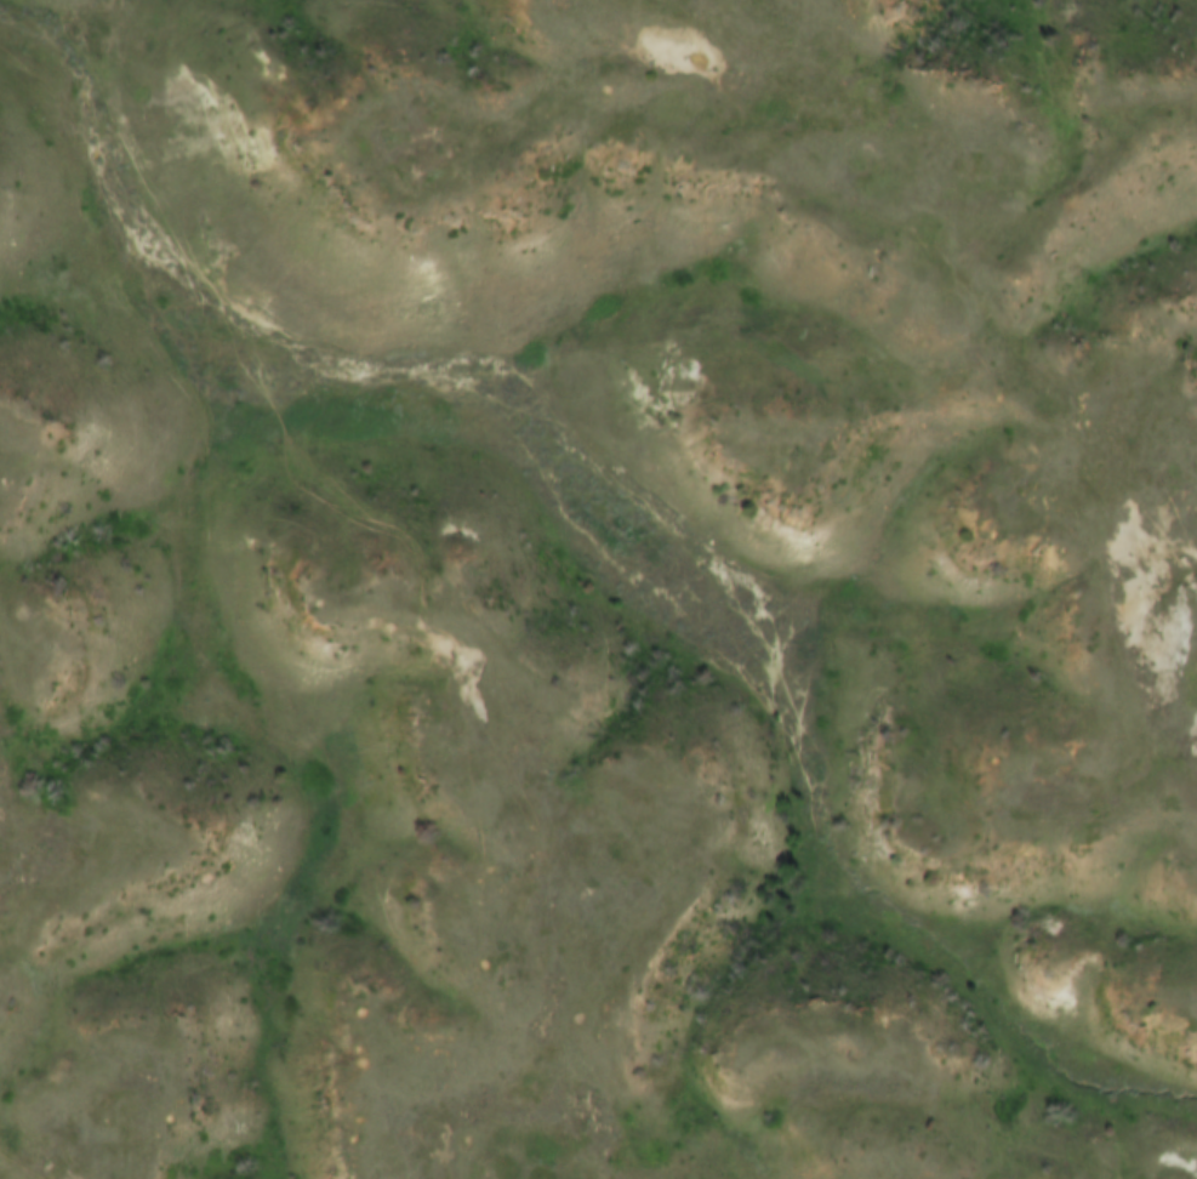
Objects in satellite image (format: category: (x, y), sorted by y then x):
road: (17, 1164)

